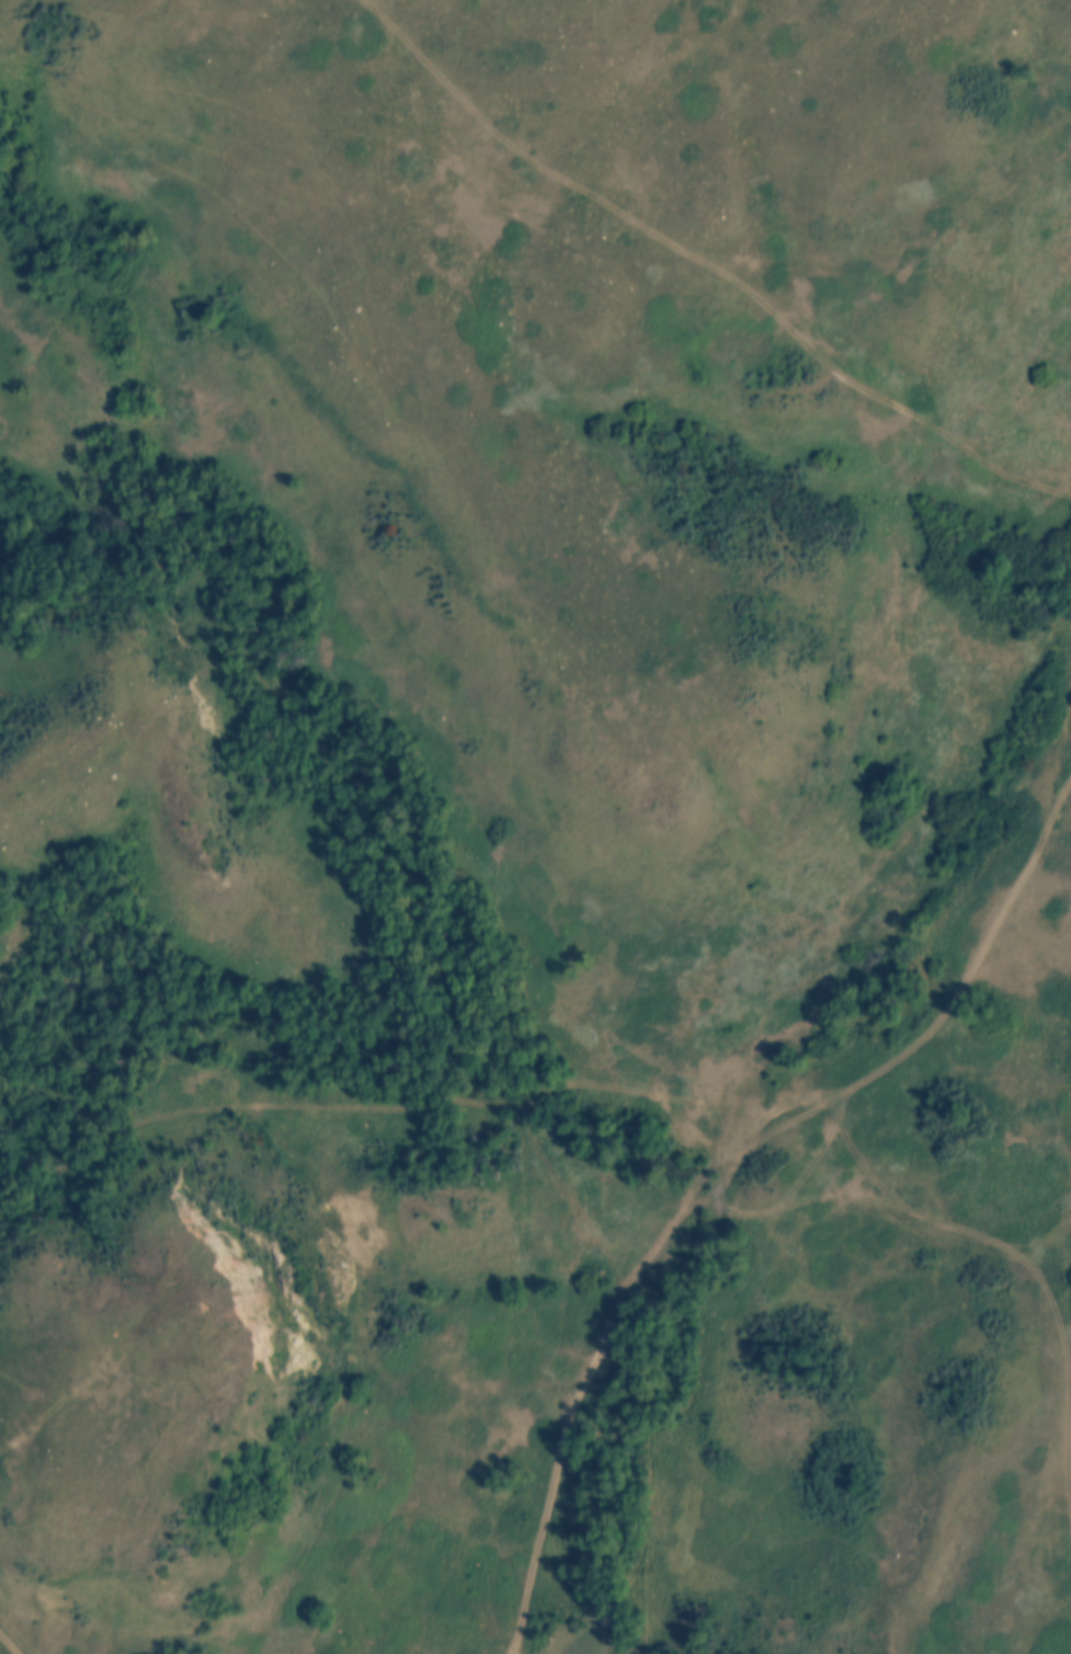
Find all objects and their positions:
road: (705, 261)
road: (856, 1154)

